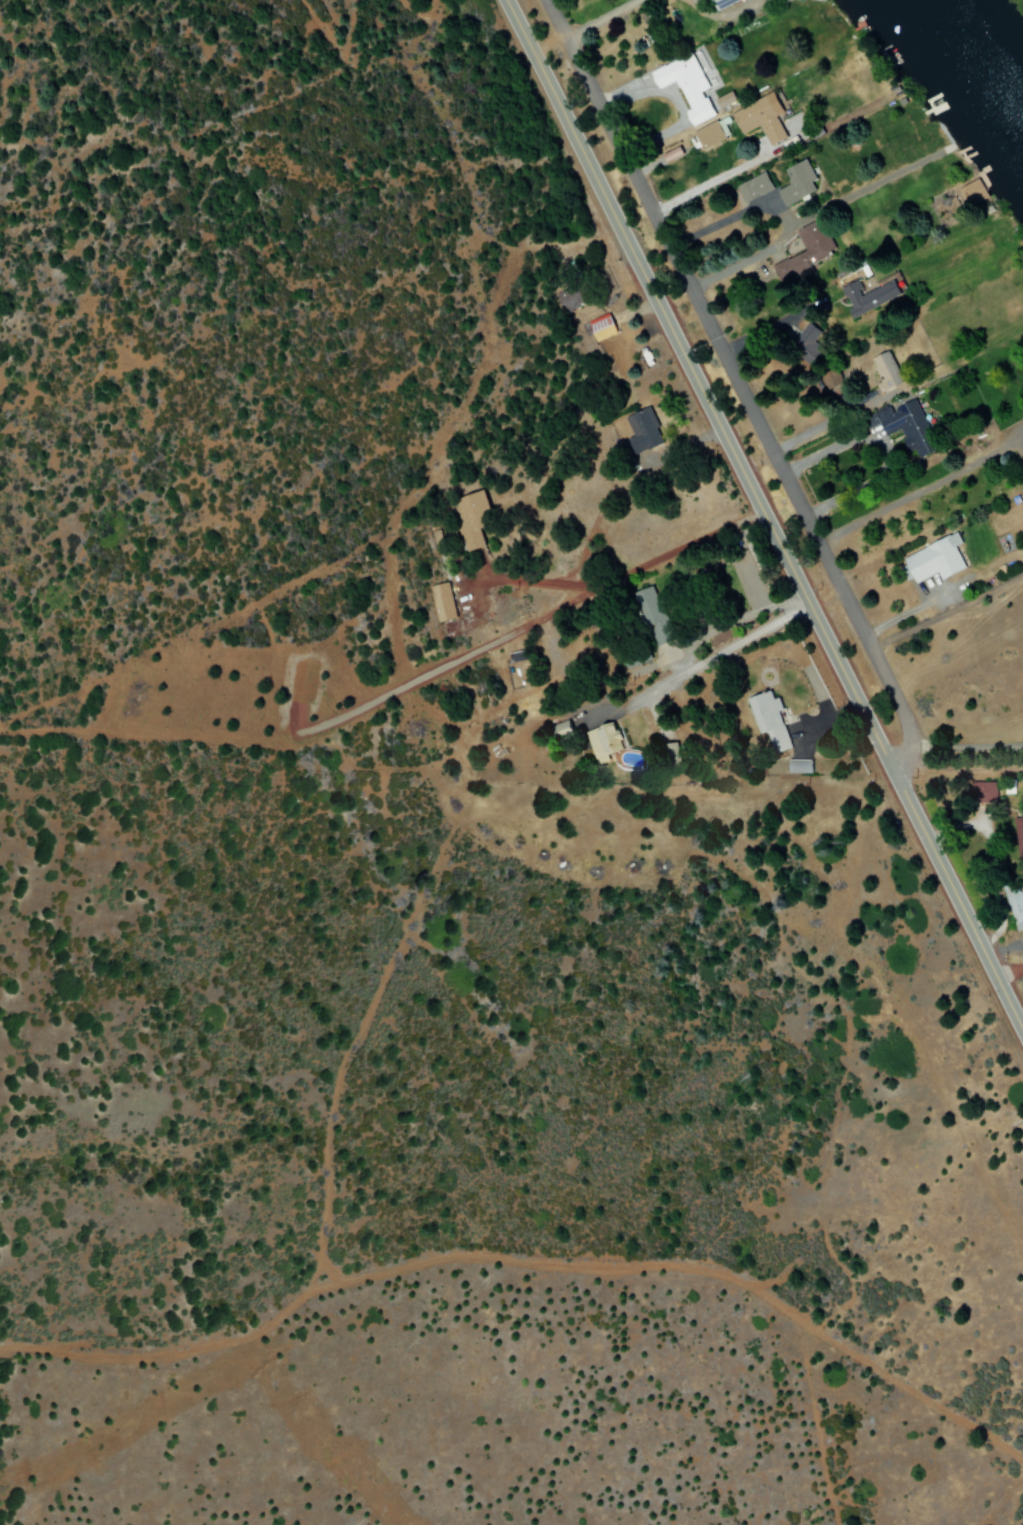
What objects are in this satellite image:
building: (719, 3)
river: (973, 66)
building: (684, 86)
building: (757, 120)
building: (709, 135)
building: (795, 183)
building: (752, 188)
building: (970, 192)
building: (803, 252)
building: (863, 295)
building: (603, 325)
building: (805, 336)
building: (884, 371)
building: (830, 379)
road: (736, 384)
building: (904, 426)
building: (641, 430)
building: (1022, 463)
road: (762, 517)
building: (471, 519)
building: (933, 559)
building: (441, 602)
building: (652, 615)
building: (767, 720)
building: (602, 742)
building: (797, 766)
building: (983, 791)
road: (457, 814)
building: (1018, 839)
building: (1013, 905)
road: (528, 1265)
road: (1002, 1502)

